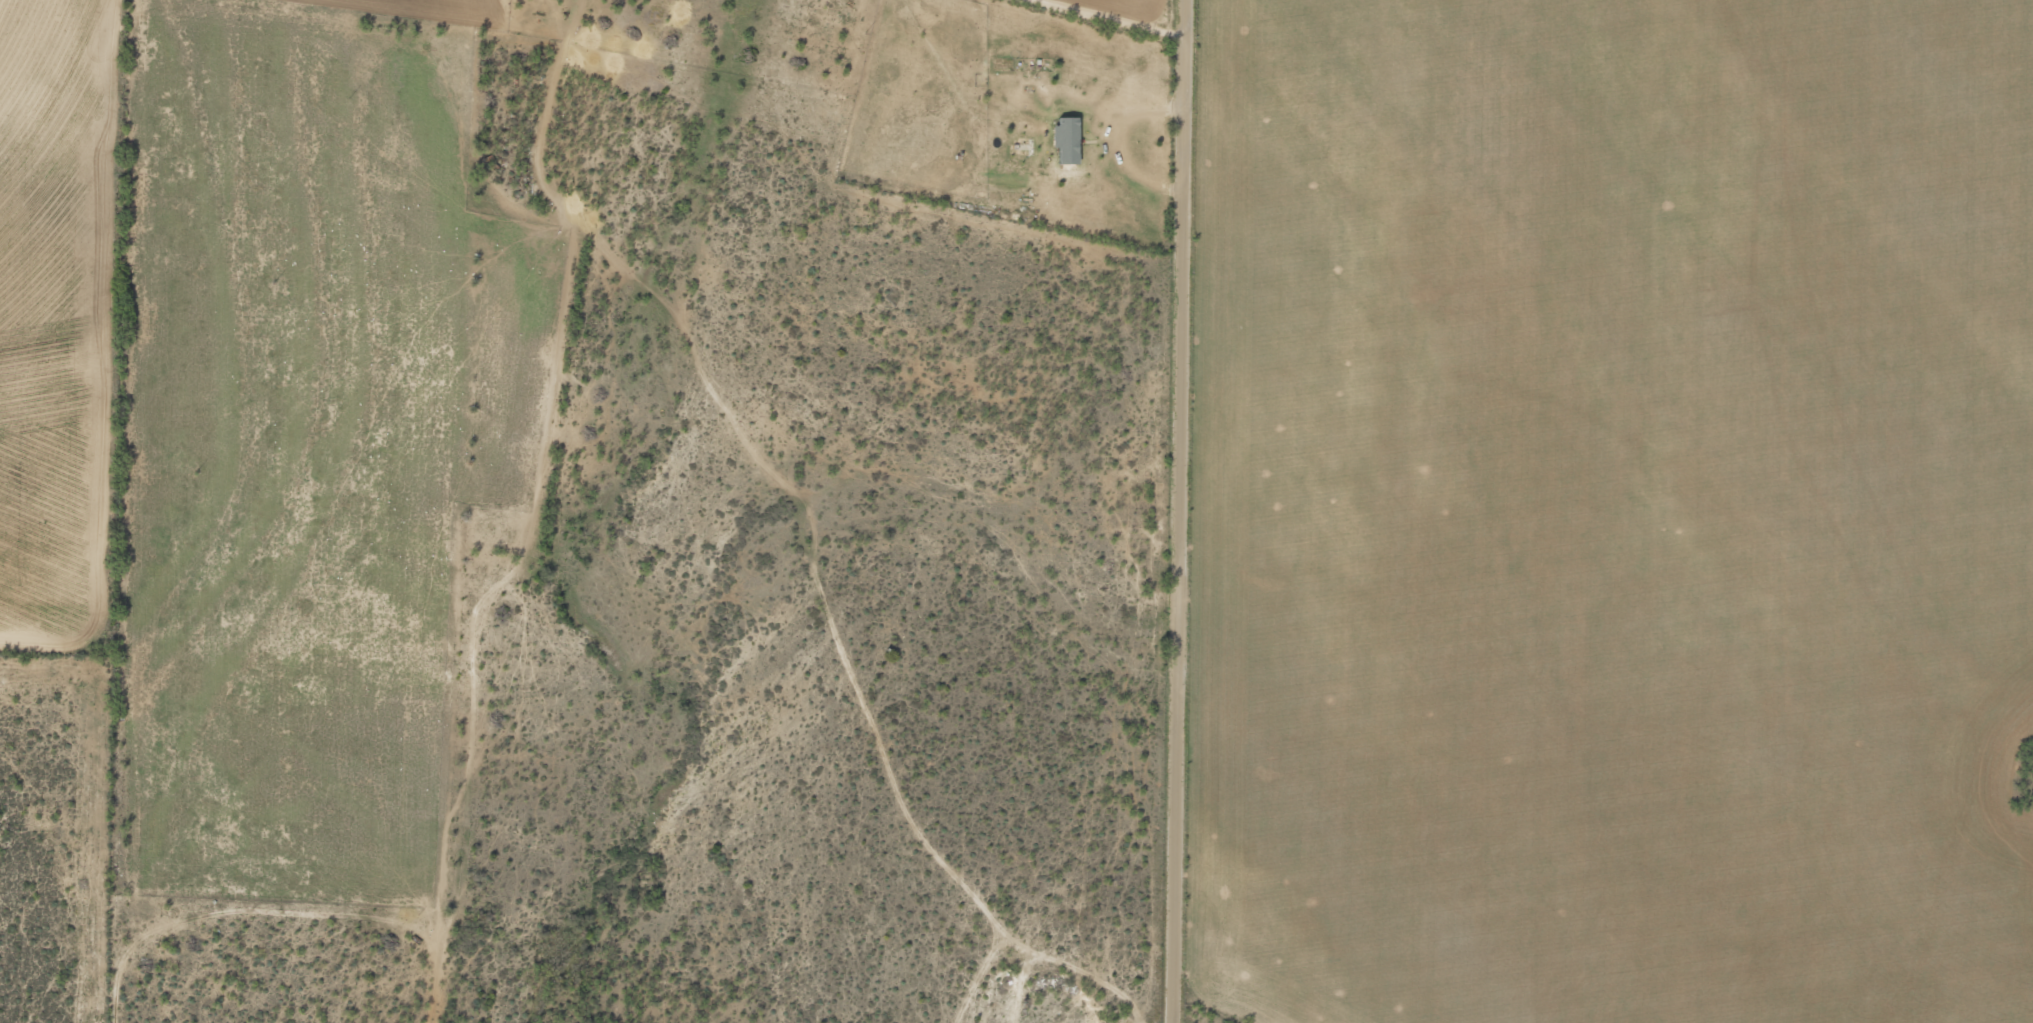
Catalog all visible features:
road: (1061, 42)
road: (565, 158)
road: (661, 317)
road: (1179, 511)

